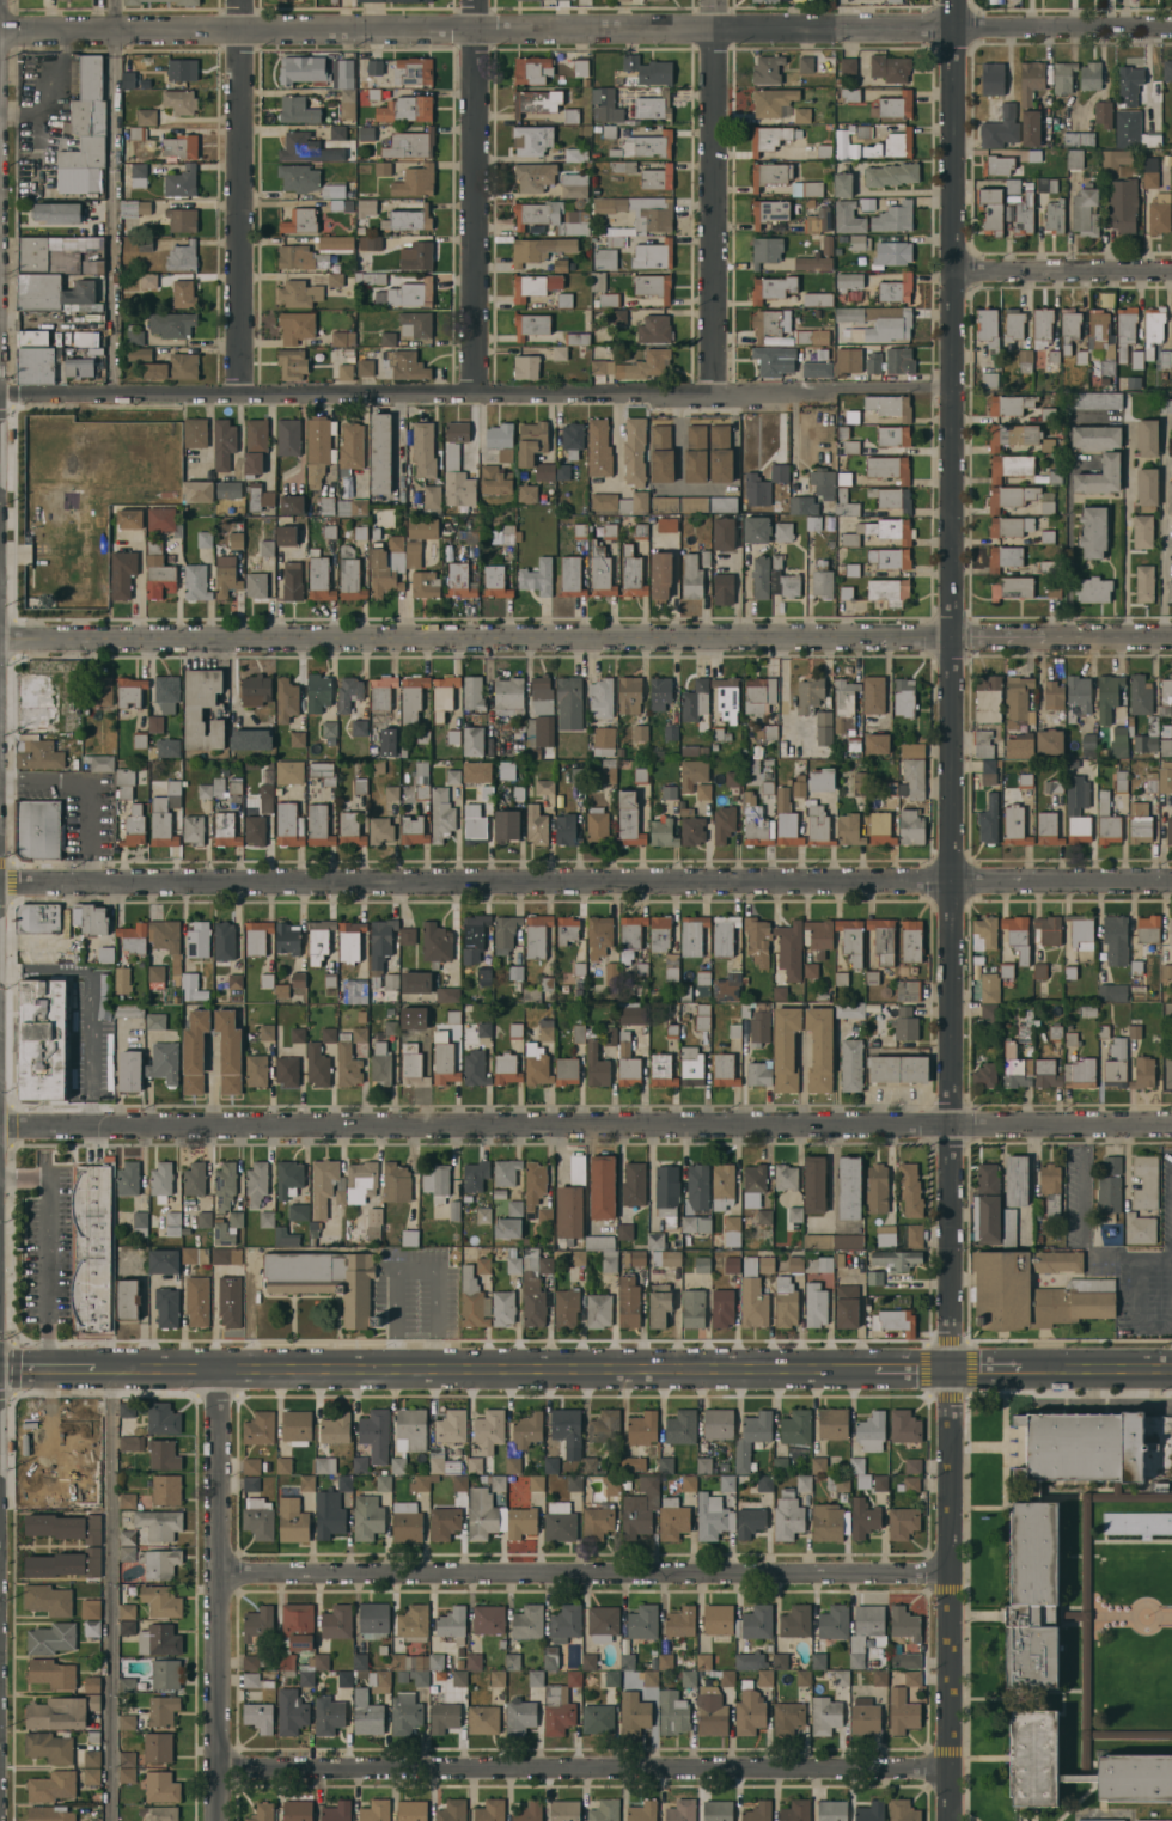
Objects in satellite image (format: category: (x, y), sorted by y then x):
building: (286, 0)
building: (393, 0)
building: (623, 0)
building: (657, 0)
building: (761, 0)
building: (160, 1)
building: (893, 1)
building: (637, 2)
road: (586, 20)
building: (806, 65)
building: (848, 66)
building: (374, 67)
building: (580, 67)
building: (303, 68)
building: (890, 68)
building: (182, 69)
building: (1011, 69)
building: (413, 71)
building: (532, 71)
building: (649, 71)
building: (767, 71)
building: (1167, 71)
building: (1089, 77)
building: (1063, 78)
building: (128, 79)
building: (993, 79)
road: (41, 80)
building: (1031, 81)
building: (1129, 85)
building: (347, 87)
building: (374, 94)
building: (850, 94)
building: (179, 102)
building: (536, 102)
building: (771, 102)
building: (896, 105)
building: (653, 106)
building: (608, 108)
building: (407, 109)
building: (297, 110)
building: (1103, 112)
building: (570, 116)
building: (801, 116)
building: (146, 117)
building: (1000, 127)
building: (1030, 129)
building: (609, 130)
building: (863, 130)
building: (1133, 132)
building: (85, 133)
building: (136, 133)
building: (337, 133)
building: (366, 134)
building: (769, 139)
building: (532, 140)
building: (1070, 140)
building: (1086, 140)
building: (841, 142)
building: (409, 145)
road: (41, 146)
building: (646, 146)
building: (892, 146)
building: (181, 147)
building: (306, 148)
building: (823, 152)
building: (576, 154)
building: (1037, 157)
building: (1116, 158)
building: (1074, 159)
building: (1001, 166)
building: (623, 167)
building: (383, 169)
building: (769, 175)
building: (891, 175)
building: (139, 176)
building: (535, 176)
building: (299, 178)
building: (657, 178)
building: (1150, 181)
building: (415, 182)
building: (181, 183)
building: (842, 184)
building: (574, 185)
building: (1046, 185)
building: (1013, 187)
building: (812, 189)
building: (337, 191)
road: (115, 193)
road: (242, 193)
road: (476, 193)
road: (715, 193)
building: (989, 196)
building: (867, 204)
building: (1123, 204)
building: (341, 206)
building: (134, 208)
building: (365, 208)
building: (769, 212)
building: (56, 213)
building: (1085, 213)
building: (637, 214)
building: (1159, 214)
building: (1024, 216)
building: (1055, 216)
building: (551, 218)
building: (847, 218)
building: (893, 218)
building: (408, 219)
building: (993, 219)
building: (182, 220)
building: (300, 221)
building: (817, 221)
building: (360, 230)
building: (99, 240)
building: (616, 242)
building: (370, 243)
building: (859, 243)
building: (335, 244)
building: (145, 245)
building: (826, 245)
building: (539, 250)
building: (765, 250)
building: (891, 255)
building: (417, 256)
building: (653, 256)
building: (182, 257)
building: (55, 258)
building: (301, 258)
building: (605, 259)
building: (812, 263)
building: (560, 265)
building: (336, 268)
road: (1062, 269)
building: (336, 279)
building: (370, 279)
building: (148, 281)
building: (597, 281)
building: (890, 285)
building: (535, 286)
building: (849, 286)
building: (653, 287)
building: (771, 289)
building: (53, 293)
building: (299, 293)
building: (410, 293)
building: (184, 294)
building: (608, 300)
building: (818, 300)
building: (564, 301)
building: (617, 317)
road: (953, 318)
building: (770, 323)
building: (877, 323)
building: (416, 324)
building: (172, 325)
building: (531, 325)
building: (1013, 325)
building: (295, 326)
building: (1069, 326)
building: (1098, 326)
building: (988, 328)
building: (1042, 328)
building: (654, 330)
building: (1153, 330)
building: (1125, 331)
building: (1171, 334)
building: (134, 336)
building: (85, 337)
building: (812, 337)
building: (33, 338)
building: (343, 340)
building: (389, 340)
building: (578, 340)
building: (139, 353)
building: (348, 353)
building: (560, 354)
building: (822, 354)
building: (1054, 356)
building: (1081, 356)
building: (873, 359)
building: (773, 360)
building: (1137, 360)
building: (1164, 360)
building: (899, 361)
building: (1025, 361)
building: (847, 362)
building: (83, 363)
building: (292, 363)
building: (37, 365)
building: (405, 365)
building: (645, 365)
building: (173, 367)
building: (526, 367)
building: (602, 367)
building: (365, 368)
building: (1107, 368)
building: (816, 369)
building: (346, 372)
building: (989, 380)
road: (476, 385)
building: (1093, 401)
building: (1009, 405)
building: (1165, 405)
building: (889, 407)
building: (1049, 415)
building: (851, 417)
road: (209, 429)
building: (844, 432)
building: (195, 433)
building: (457, 433)
building: (1013, 435)
building: (573, 436)
building: (893, 436)
building: (288, 438)
building: (1095, 438)
building: (1147, 438)
building: (321, 441)
building: (501, 441)
building: (531, 442)
building: (224, 444)
building: (1048, 445)
building: (255, 446)
building: (850, 447)
building: (350, 448)
building: (423, 450)
building: (599, 450)
building: (634, 452)
building: (380, 453)
building: (661, 454)
building: (696, 454)
building: (720, 454)
building: (471, 459)
building: (1009, 468)
building: (889, 469)
building: (545, 472)
building: (567, 472)
building: (779, 472)
building: (313, 473)
building: (1055, 477)
building: (1100, 477)
building: (844, 479)
building: (495, 481)
building: (823, 481)
building: (228, 489)
building: (1147, 489)
building: (756, 490)
building: (197, 491)
building: (527, 494)
building: (260, 496)
building: (432, 497)
building: (1170, 497)
building: (892, 499)
building: (1019, 499)
building: (604, 501)
building: (634, 503)
building: (292, 505)
building: (664, 505)
building: (694, 505)
building: (722, 505)
building: (846, 505)
building: (326, 506)
building: (802, 506)
building: (352, 507)
building: (129, 519)
building: (163, 520)
building: (627, 520)
road: (1127, 520)
building: (813, 524)
building: (666, 525)
building: (1009, 526)
building: (330, 528)
building: (756, 530)
building: (889, 530)
road: (1165, 530)
building: (580, 531)
building: (610, 531)
building: (640, 531)
building: (360, 532)
building: (782, 532)
building: (1093, 532)
building: (1143, 532)
building: (503, 534)
building: (722, 534)
building: (287, 536)
building: (518, 536)
building: (237, 537)
building: (471, 537)
building: (1046, 537)
building: (205, 539)
building: (419, 539)
building: (850, 540)
building: (267, 549)
building: (706, 557)
building: (889, 558)
building: (1005, 558)
building: (386, 567)
building: (1048, 568)
building: (851, 570)
building: (158, 572)
building: (600, 572)
building: (631, 573)
building: (122, 574)
building: (350, 575)
building: (661, 576)
building: (319, 578)
building: (537, 578)
building: (570, 578)
building: (691, 578)
building: (761, 578)
building: (782, 580)
building: (226, 581)
building: (459, 581)
building: (196, 582)
building: (292, 582)
building: (495, 582)
building: (822, 582)
building: (1144, 583)
building: (256, 585)
building: (426, 585)
road: (737, 586)
building: (1011, 588)
building: (722, 589)
building: (1092, 589)
building: (1054, 591)
building: (889, 592)
building: (1170, 592)
building: (846, 593)
road: (1062, 637)
road: (476, 640)
building: (256, 690)
building: (130, 691)
building: (1166, 691)
building: (318, 692)
building: (381, 692)
building: (445, 692)
building: (98, 693)
building: (166, 693)
building: (348, 693)
building: (660, 693)
building: (474, 695)
building: (630, 695)
building: (759, 695)
building: (808, 695)
building: (873, 695)
building: (1140, 695)
building: (508, 696)
building: (542, 696)
building: (1052, 696)
building: (411, 697)
building: (726, 697)
building: (1078, 697)
building: (1107, 697)
building: (600, 698)
building: (904, 698)
building: (988, 698)
building: (287, 701)
building: (695, 701)
building: (1018, 702)
building: (569, 703)
building: (843, 703)
building: (39, 704)
building: (194, 714)
building: (823, 717)
building: (155, 725)
building: (360, 728)
building: (330, 729)
building: (671, 732)
building: (765, 732)
building: (640, 733)
building: (719, 734)
building: (391, 735)
building: (422, 737)
building: (518, 737)
building: (824, 737)
building: (453, 738)
building: (539, 738)
building: (298, 739)
building: (140, 740)
building: (251, 740)
building: (472, 741)
building: (604, 741)
building: (1049, 741)
building: (1118, 743)
building: (878, 744)
building: (982, 744)
building: (1146, 744)
building: (854, 745)
building: (1088, 745)
building: (1020, 746)
building: (167, 747)
building: (1165, 747)
building: (73, 748)
building: (694, 751)
building: (912, 751)
building: (377, 752)
building: (393, 752)
building: (38, 756)
building: (99, 763)
building: (141, 765)
building: (376, 766)
building: (751, 766)
building: (422, 770)
building: (507, 770)
building: (477, 771)
building: (609, 771)
building: (989, 771)
building: (267, 772)
building: (289, 772)
building: (323, 772)
building: (579, 775)
building: (692, 775)
building: (768, 775)
building: (453, 776)
building: (640, 776)
building: (732, 778)
building: (914, 778)
building: (822, 780)
building: (860, 780)
building: (1025, 781)
building: (1164, 781)
building: (1121, 782)
building: (1150, 782)
building: (124, 783)
parking lot: (53, 786)
building: (234, 786)
building: (360, 786)
building: (175, 787)
building: (219, 787)
building: (545, 787)
building: (768, 787)
building: (799, 787)
building: (1052, 787)
road: (91, 789)
building: (891, 789)
building: (267, 790)
building: (902, 790)
building: (205, 792)
building: (703, 792)
building: (392, 793)
building: (422, 793)
building: (488, 793)
building: (669, 793)
building: (1076, 795)
building: (560, 801)
building: (1103, 802)
building: (686, 812)
building: (441, 815)
parking lot: (93, 820)
building: (629, 820)
building: (786, 820)
building: (989, 821)
building: (1139, 823)
building: (724, 824)
building: (756, 824)
building: (163, 825)
building: (474, 825)
building: (536, 825)
building: (817, 825)
building: (289, 826)
building: (319, 826)
building: (1014, 826)
building: (134, 827)
building: (507, 827)
building: (910, 827)
building: (38, 830)
building: (194, 830)
building: (255, 830)
building: (350, 830)
building: (380, 830)
building: (599, 830)
building: (880, 830)
building: (1048, 830)
building: (1079, 830)
building: (1109, 830)
building: (1168, 830)
building: (226, 831)
building: (413, 831)
building: (567, 831)
building: (692, 831)
building: (849, 831)
building: (663, 833)
road: (586, 888)
building: (37, 918)
building: (90, 918)
building: (568, 929)
building: (1147, 929)
building: (506, 930)
building: (1048, 930)
road: (1098, 930)
building: (1081, 931)
building: (1170, 931)
building: (660, 934)
building: (537, 935)
building: (691, 935)
building: (724, 935)
building: (165, 936)
building: (257, 936)
building: (407, 936)
building: (599, 936)
building: (630, 936)
building: (818, 936)
building: (1017, 937)
building: (133, 939)
building: (287, 939)
building: (474, 939)
building: (199, 940)
building: (319, 940)
building: (883, 940)
building: (1115, 940)
building: (224, 941)
building: (350, 941)
building: (757, 941)
building: (850, 941)
building: (911, 941)
building: (437, 945)
building: (789, 949)
building: (105, 955)
building: (383, 958)
building: (976, 958)
building: (580, 961)
building: (190, 963)
building: (177, 968)
building: (670, 968)
building: (1006, 970)
building: (811, 971)
building: (1039, 971)
building: (1166, 971)
building: (1070, 972)
building: (155, 974)
building: (611, 974)
building: (1136, 976)
building: (484, 977)
building: (703, 978)
building: (872, 978)
building: (267, 979)
building: (298, 979)
building: (841, 979)
building: (122, 980)
building: (236, 982)
building: (416, 983)
building: (727, 986)
building: (193, 988)
building: (281, 990)
building: (355, 991)
building: (537, 991)
building: (908, 991)
building: (1112, 992)
building: (685, 994)
building: (780, 994)
building: (448, 995)
road: (90, 1006)
building: (129, 1010)
building: (848, 1010)
building: (1088, 1010)
building: (630, 1012)
building: (988, 1012)
building: (407, 1014)
building: (702, 1019)
building: (155, 1022)
building: (903, 1022)
building: (391, 1027)
building: (483, 1028)
building: (759, 1028)
building: (547, 1029)
parking lot: (90, 1031)
building: (515, 1031)
building: (1104, 1031)
building: (1134, 1031)
building: (672, 1032)
building: (682, 1032)
building: (1056, 1032)
building: (267, 1033)
building: (1024, 1033)
building: (579, 1034)
building: (298, 1035)
building: (329, 1035)
building: (359, 1035)
building: (16, 1037)
building: (610, 1037)
building: (1070, 1039)
building: (42, 1040)
building: (785, 1049)
building: (819, 1049)
building: (230, 1051)
building: (194, 1052)
building: (442, 1059)
building: (164, 1063)
building: (348, 1063)
building: (628, 1063)
building: (381, 1064)
building: (1116, 1064)
building: (317, 1065)
building: (537, 1065)
building: (850, 1065)
building: (597, 1067)
building: (691, 1067)
building: (1013, 1068)
building: (475, 1069)
building: (506, 1069)
building: (898, 1069)
building: (130, 1070)
building: (413, 1070)
building: (724, 1070)
building: (256, 1071)
building: (287, 1071)
building: (567, 1071)
building: (661, 1071)
building: (1080, 1073)
building: (758, 1074)
building: (1045, 1074)
building: (1142, 1074)
building: (984, 1076)
road: (801, 1082)
road: (586, 1128)
road: (1127, 1161)
building: (1112, 1166)
building: (506, 1173)
building: (476, 1177)
building: (786, 1178)
road: (831, 1178)
building: (128, 1179)
building: (195, 1179)
building: (288, 1179)
building: (755, 1179)
building: (987, 1179)
building: (361, 1181)
building: (1017, 1181)
building: (161, 1183)
building: (396, 1183)
building: (437, 1183)
building: (1144, 1183)
building: (256, 1184)
building: (225, 1185)
building: (634, 1185)
building: (814, 1185)
building: (325, 1186)
building: (697, 1186)
building: (722, 1186)
building: (603, 1187)
building: (849, 1187)
building: (877, 1188)
building: (910, 1190)
building: (1050, 1190)
road: (1086, 1192)
building: (500, 1193)
building: (536, 1193)
building: (667, 1194)
parking lot: (1081, 1196)
building: (1107, 1197)
building: (572, 1200)
building: (515, 1209)
building: (454, 1211)
building: (298, 1212)
building: (795, 1214)
building: (484, 1216)
building: (987, 1218)
building: (205, 1220)
building: (267, 1220)
building: (764, 1220)
building: (172, 1221)
building: (745, 1222)
building: (140, 1224)
building: (374, 1224)
building: (694, 1226)
building: (220, 1229)
building: (508, 1229)
road: (958, 1229)
building: (1008, 1229)
building: (1139, 1229)
building: (624, 1232)
building: (732, 1232)
building: (899, 1233)
building: (914, 1236)
building: (285, 1238)
building: (410, 1239)
building: (848, 1240)
building: (886, 1240)
building: (655, 1241)
building: (817, 1241)
building: (599, 1243)
parking lot: (49, 1246)
road: (45, 1248)
building: (92, 1248)
building: (195, 1255)
building: (226, 1257)
building: (572, 1257)
building: (639, 1258)
building: (666, 1258)
road: (1129, 1258)
building: (896, 1260)
building: (610, 1261)
building: (164, 1263)
building: (817, 1263)
building: (702, 1264)
building: (732, 1264)
building: (749, 1265)
building: (767, 1265)
building: (795, 1265)
building: (483, 1266)
building: (514, 1266)
parking lot: (1140, 1276)
building: (874, 1278)
building: (325, 1279)
building: (535, 1289)
building: (1034, 1291)
parking lot: (419, 1294)
building: (128, 1300)
building: (197, 1301)
building: (230, 1301)
building: (474, 1301)
building: (752, 1301)
building: (629, 1302)
building: (786, 1302)
building: (659, 1306)
building: (814, 1306)
building: (847, 1306)
building: (502, 1307)
building: (166, 1308)
building: (566, 1308)
building: (721, 1308)
building: (694, 1309)
building: (598, 1310)
road: (1131, 1310)
building: (895, 1322)
road: (23, 1367)
road: (68, 1367)
road: (922, 1367)
road: (984, 1367)
road: (1091, 1367)
road: (488, 1368)
building: (127, 1408)
building: (161, 1419)
building: (718, 1424)
building: (832, 1424)
building: (566, 1426)
building: (605, 1426)
building: (904, 1426)
building: (297, 1428)
building: (335, 1428)
building: (452, 1428)
building: (643, 1428)
building: (682, 1428)
building: (795, 1428)
building: (260, 1429)
building: (409, 1429)
building: (527, 1430)
building: (871, 1430)
building: (489, 1431)
parking lot: (50, 1432)
building: (376, 1435)
building: (751, 1440)
building: (74, 1441)
building: (130, 1443)
building: (1082, 1443)
building: (164, 1456)
building: (442, 1462)
building: (633, 1463)
building: (856, 1463)
building: (475, 1465)
building: (551, 1465)
building: (283, 1466)
building: (325, 1466)
building: (360, 1466)
building: (398, 1466)
building: (513, 1466)
building: (591, 1466)
building: (666, 1466)
building: (704, 1466)
building: (780, 1466)
building: (818, 1466)
building: (912, 1466)
building: (251, 1467)
building: (434, 1478)
building: (862, 1480)
building: (495, 1481)
building: (726, 1483)
building: (837, 1483)
building: (880, 1483)
building: (307, 1484)
building: (384, 1484)
building: (420, 1484)
building: (460, 1484)
building: (537, 1484)
building: (575, 1484)
building: (612, 1484)
building: (689, 1484)
building: (764, 1484)
building: (804, 1484)
building: (910, 1484)
building: (251, 1485)
parking lot: (59, 1489)
building: (166, 1490)
building: (128, 1501)
building: (640, 1509)
building: (331, 1510)
building: (484, 1515)
building: (787, 1515)
building: (713, 1516)
building: (258, 1518)
building: (367, 1518)
building: (672, 1518)
building: (749, 1518)
building: (863, 1518)
building: (292, 1521)
building: (407, 1522)
building: (521, 1522)
building: (560, 1522)
building: (1136, 1522)
building: (444, 1523)
building: (597, 1523)
building: (830, 1523)
building: (902, 1523)
building: (159, 1524)
building: (128, 1536)
building: (92, 1546)
building: (128, 1552)
building: (160, 1562)
road: (585, 1570)
road: (110, 1594)
building: (1032, 1594)
road: (219, 1595)
building: (49, 1599)
building: (163, 1600)
building: (91, 1609)
building: (127, 1611)
flagpole: (1144, 1615)
building: (487, 1617)
building: (716, 1617)
building: (372, 1618)
building: (679, 1619)
building: (794, 1619)
building: (832, 1619)
building: (336, 1620)
building: (413, 1620)
building: (527, 1620)
building: (564, 1620)
building: (602, 1620)
building: (642, 1620)
building: (756, 1620)
building: (452, 1621)
building: (904, 1621)
building: (257, 1623)
building: (92, 1627)
building: (128, 1627)
building: (865, 1630)
building: (292, 1631)
building: (51, 1638)
building: (159, 1639)
building: (265, 1654)
building: (551, 1655)
building: (904, 1657)
building: (625, 1658)
building: (664, 1658)
building: (702, 1658)
building: (749, 1658)
building: (783, 1658)
building: (817, 1658)
building: (316, 1660)
building: (359, 1660)
building: (416, 1660)
building: (474, 1660)
building: (511, 1660)
building: (588, 1660)
building: (249, 1661)
building: (653, 1663)
building: (50, 1670)
building: (708, 1670)
building: (288, 1672)
building: (1084, 1672)
building: (165, 1674)
building: (420, 1674)
building: (724, 1674)
building: (306, 1675)
building: (458, 1675)
building: (533, 1675)
building: (610, 1675)
building: (648, 1675)
building: (764, 1675)
building: (802, 1675)
building: (841, 1675)
building: (879, 1675)
building: (911, 1675)
building: (344, 1676)
building: (496, 1676)
building: (688, 1676)
building: (254, 1678)
building: (379, 1679)
building: (91, 1682)
building: (127, 1683)
building: (558, 1703)
building: (163, 1709)
building: (902, 1709)
building: (60, 1710)
building: (291, 1710)
building: (671, 1710)
building: (710, 1710)
building: (749, 1710)
building: (404, 1711)
building: (633, 1711)
building: (328, 1712)
building: (366, 1712)
building: (518, 1713)
building: (824, 1713)
building: (863, 1713)
building: (257, 1715)
building: (442, 1715)
building: (786, 1715)
building: (596, 1716)
building: (482, 1717)
building: (128, 1721)
building: (159, 1747)
building: (59, 1749)
building: (1032, 1753)
building: (127, 1759)
road: (584, 1765)
building: (1135, 1774)
building: (92, 1776)
building: (127, 1776)
building: (1076, 1776)
building: (160, 1785)
building: (51, 1786)
building: (295, 1809)
building: (374, 1809)
building: (411, 1809)
building: (450, 1809)
building: (488, 1809)
building: (563, 1809)
building: (679, 1809)
building: (716, 1809)
building: (794, 1809)
building: (831, 1809)
building: (902, 1809)
building: (335, 1810)
building: (526, 1810)
building: (604, 1810)
building: (641, 1810)
building: (757, 1810)
building: (869, 1810)
building: (261, 1811)
building: (159, 1813)
building: (49, 1814)
building: (1099, 1820)
building: (1153, 1820)

